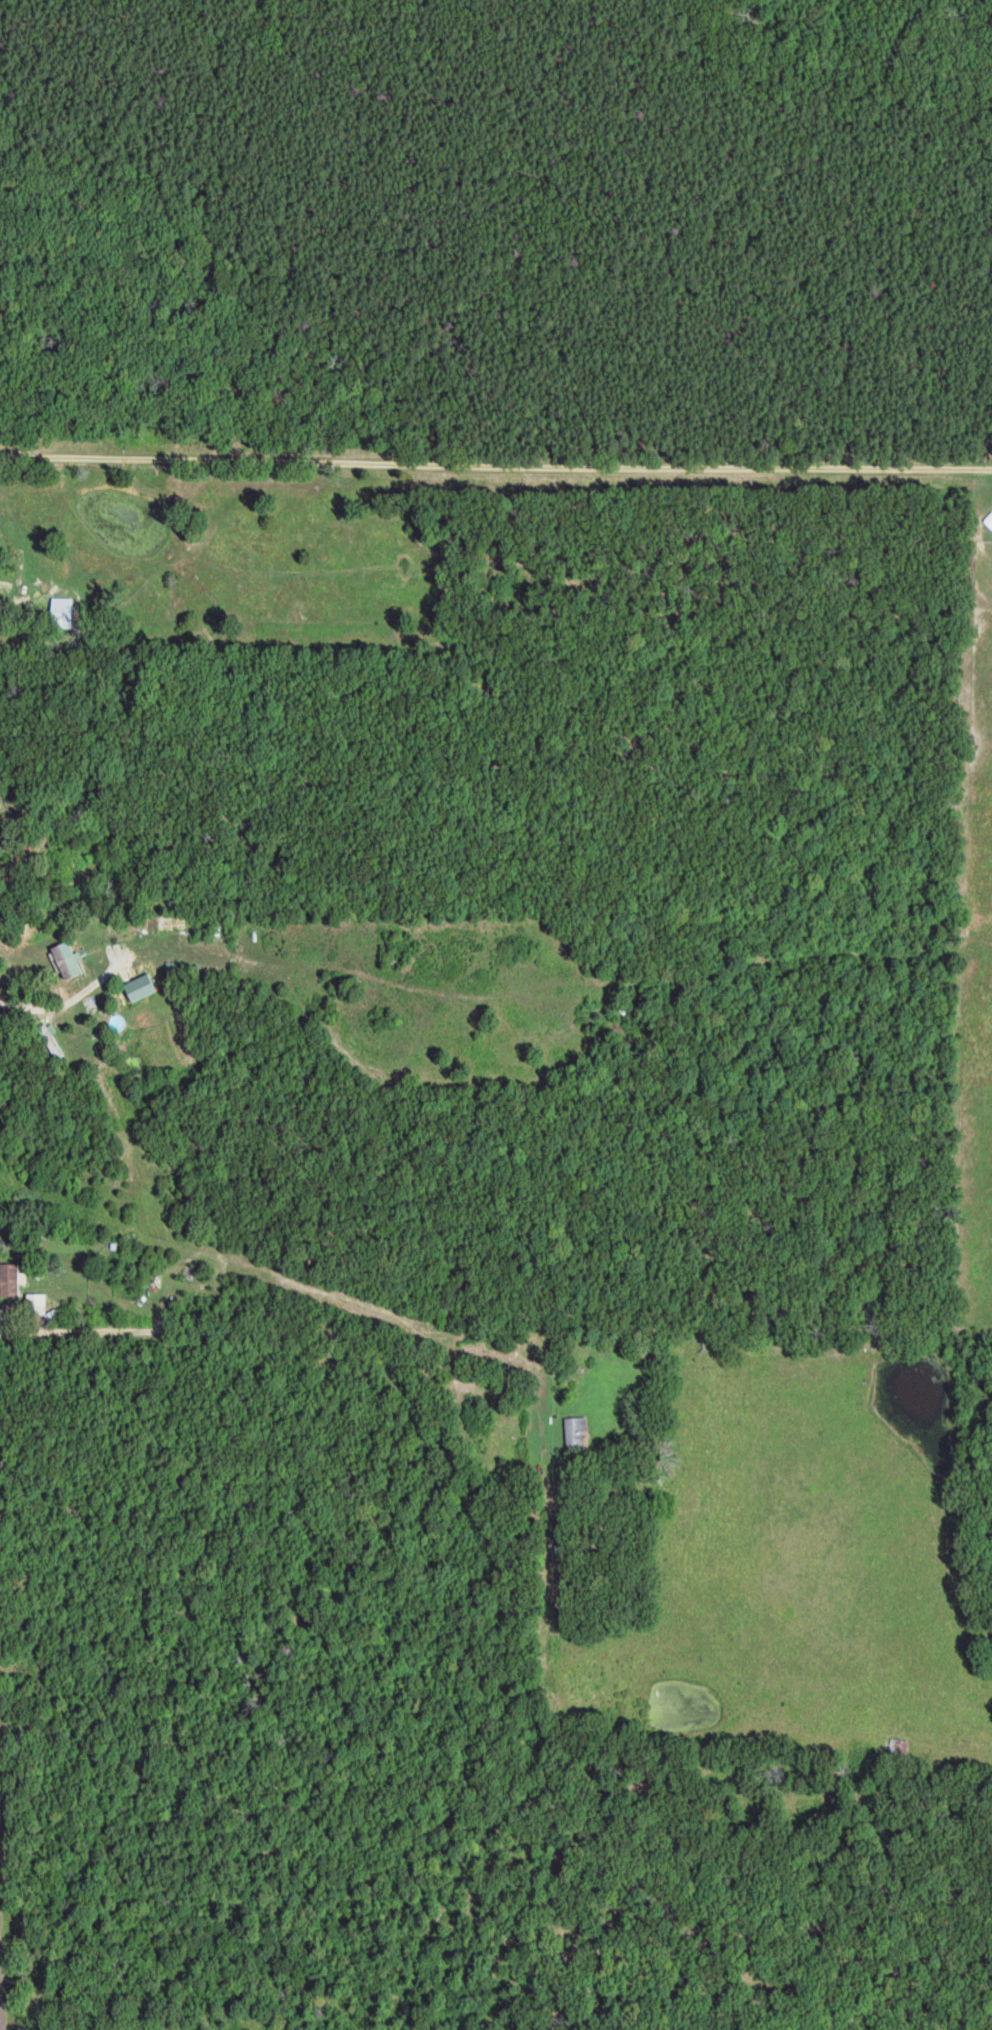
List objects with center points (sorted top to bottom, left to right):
road: (495, 464)
building: (76, 958)
building: (149, 985)
road: (299, 1337)

